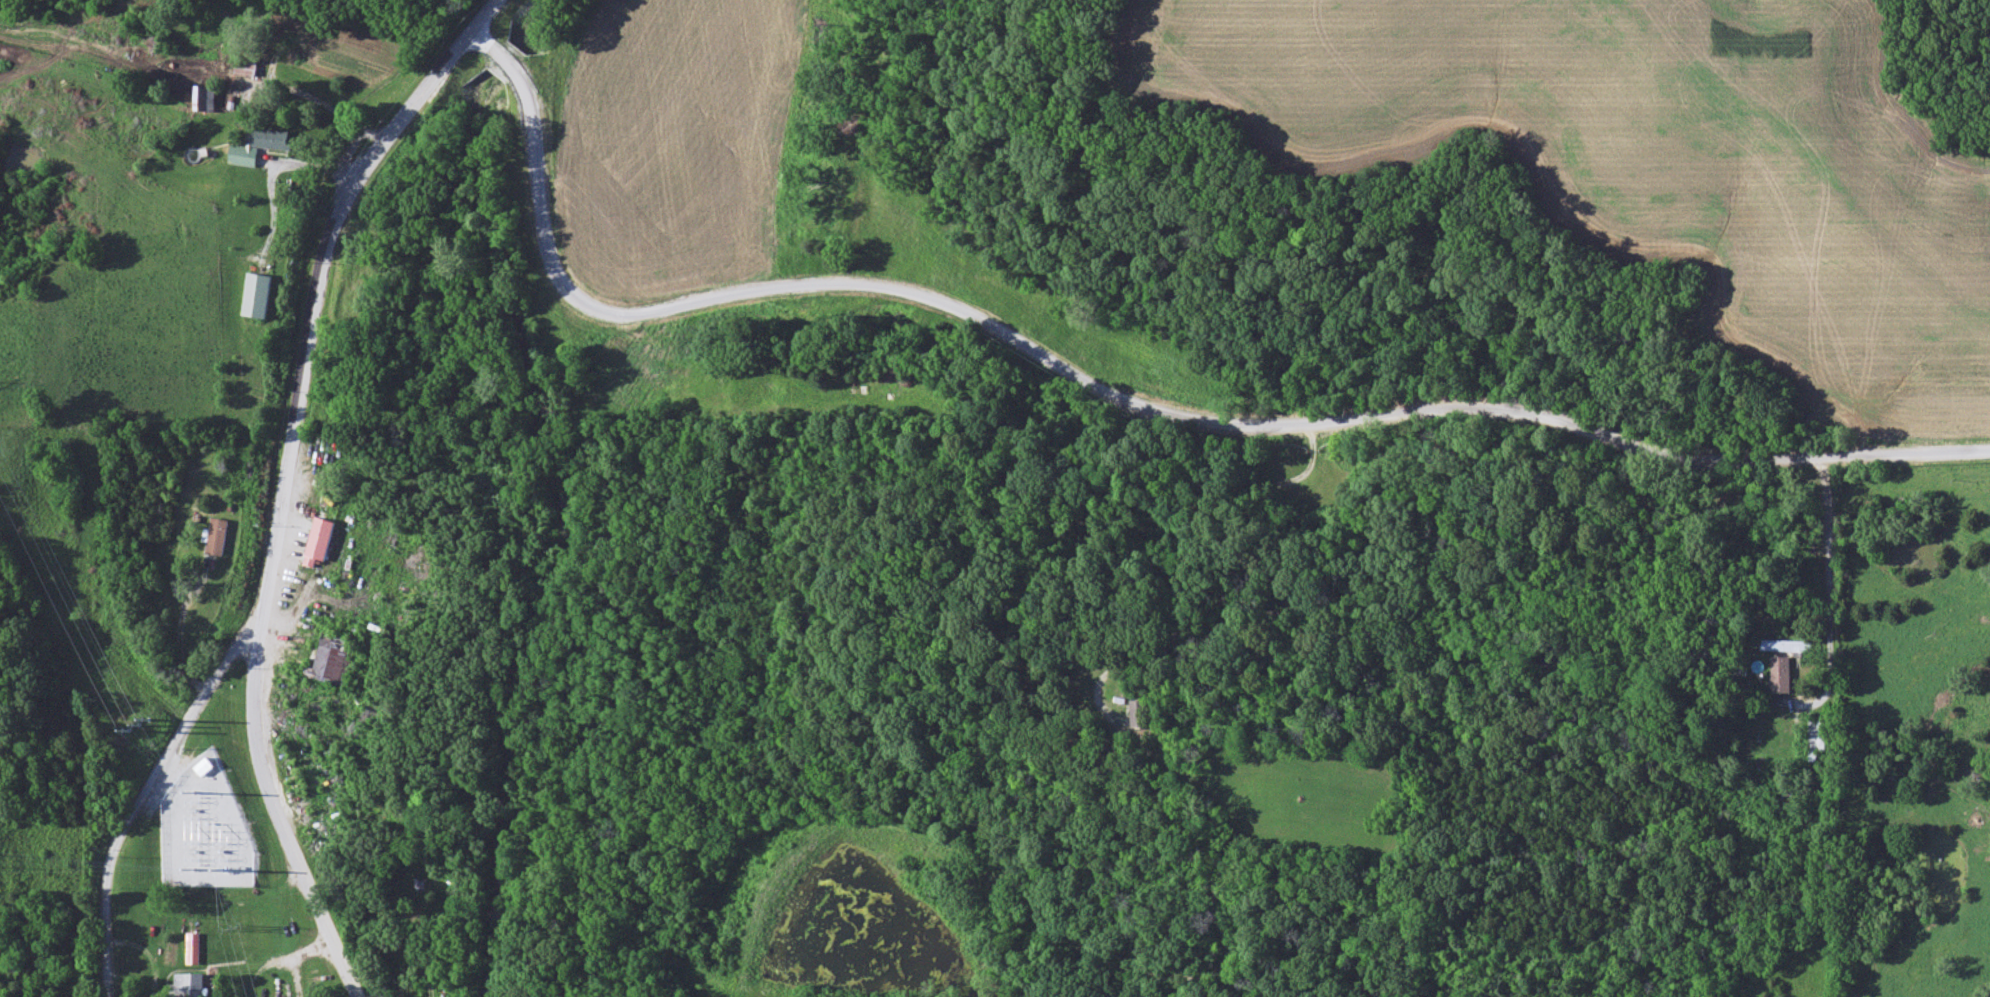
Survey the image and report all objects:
road: (520, 57)
road: (315, 279)
road: (1172, 416)
road: (1828, 622)
building: (1141, 715)
road: (145, 791)
road: (277, 810)
power substation: (206, 833)
power tower: (178, 853)
power tower: (132, 864)
power tower: (231, 928)

